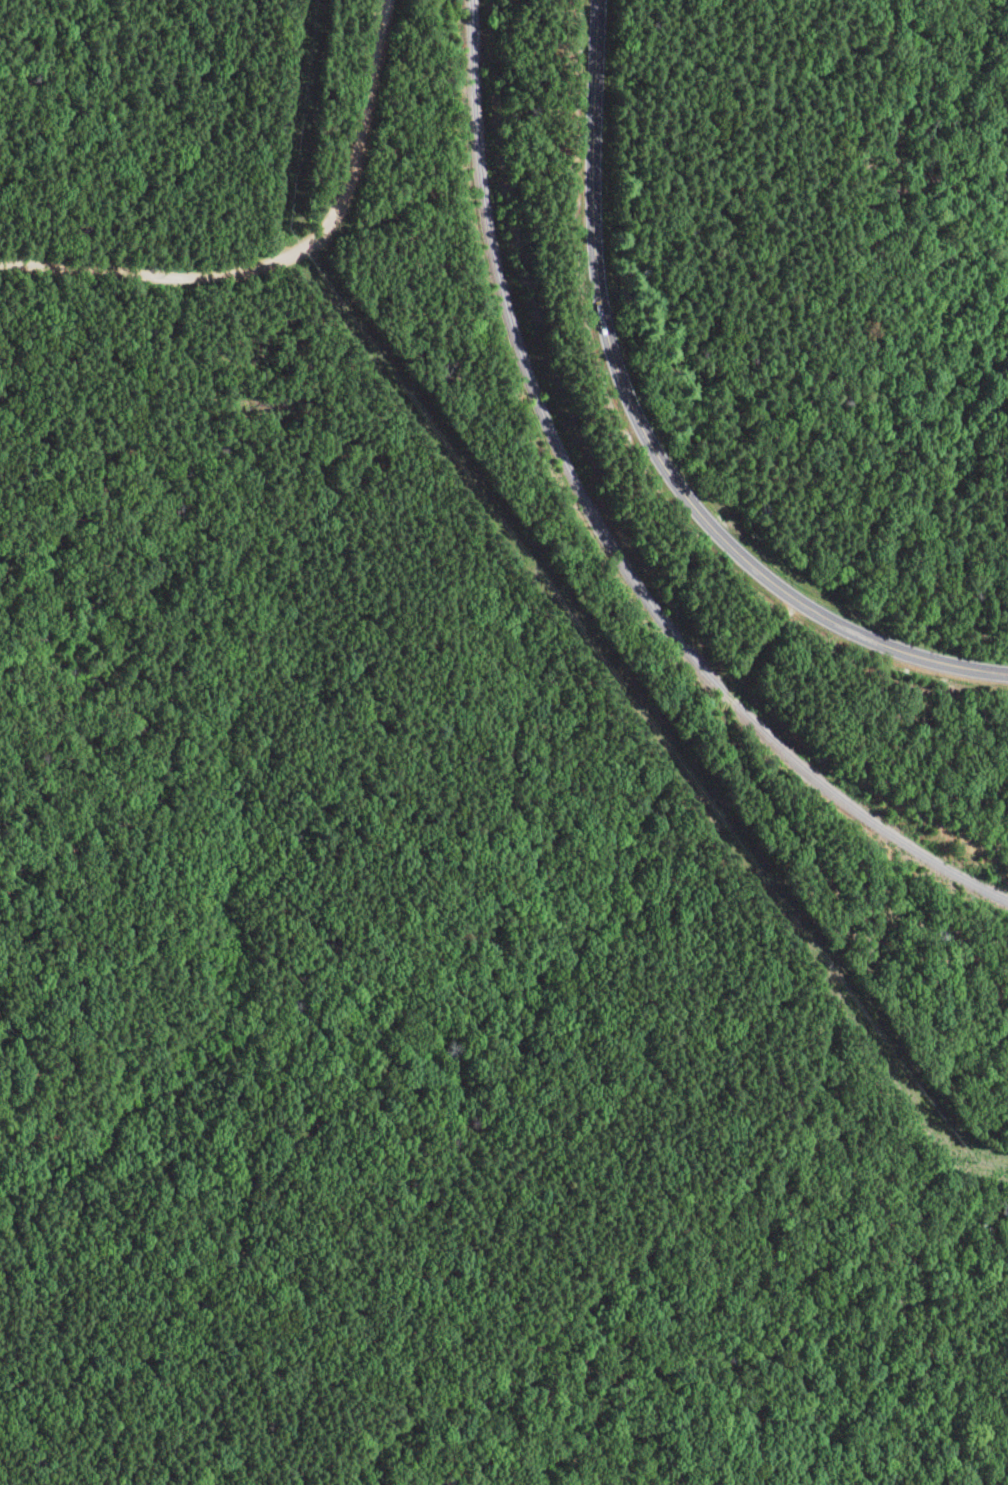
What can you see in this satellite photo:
road: (287, 256)
road: (654, 435)
railway: (601, 530)
road: (776, 1099)

